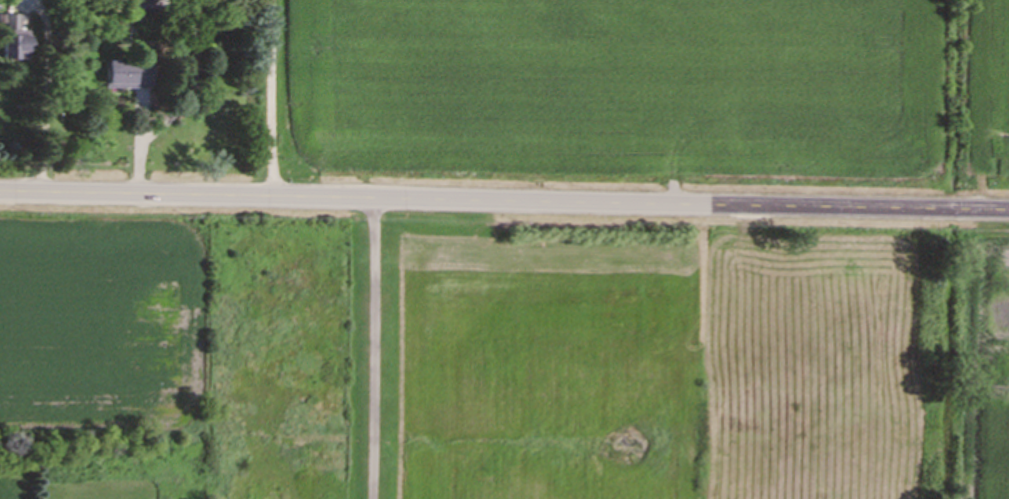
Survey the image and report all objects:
building: (135, 9)
building: (11, 39)
building: (120, 76)
road: (271, 102)
road: (44, 108)
road: (504, 208)
road: (374, 352)
crop: (984, 369)

